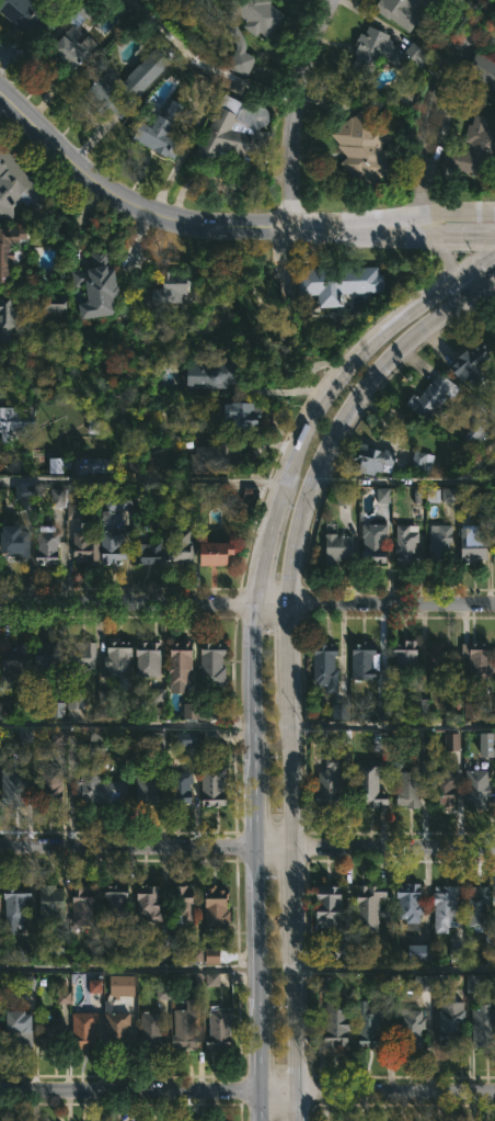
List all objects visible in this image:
building: (429, 0)
building: (449, 1)
building: (404, 14)
building: (27, 16)
building: (251, 27)
building: (73, 36)
building: (371, 47)
building: (413, 59)
road: (204, 64)
building: (484, 68)
building: (145, 72)
building: (106, 93)
road: (428, 103)
road: (296, 110)
building: (164, 128)
building: (241, 131)
building: (365, 147)
building: (474, 150)
building: (19, 184)
road: (450, 215)
road: (488, 215)
road: (187, 220)
road: (456, 236)
road: (435, 244)
building: (9, 251)
road: (281, 257)
building: (341, 283)
building: (100, 285)
building: (177, 287)
building: (55, 307)
building: (10, 314)
building: (474, 361)
building: (217, 374)
building: (435, 394)
building: (244, 415)
building: (15, 422)
building: (475, 433)
building: (217, 458)
building: (378, 461)
building: (423, 462)
road: (479, 463)
building: (55, 465)
building: (101, 465)
road: (403, 480)
building: (23, 491)
building: (382, 495)
building: (448, 495)
building: (57, 497)
building: (118, 502)
building: (73, 509)
building: (19, 540)
building: (494, 541)
building: (376, 542)
building: (410, 544)
building: (0, 545)
building: (49, 545)
building: (114, 545)
building: (183, 546)
building: (445, 546)
building: (475, 546)
building: (88, 547)
building: (338, 547)
building: (148, 552)
building: (220, 553)
road: (275, 602)
road: (128, 603)
road: (393, 603)
road: (256, 635)
building: (83, 655)
building: (408, 656)
building: (119, 658)
building: (149, 658)
building: (50, 660)
road: (291, 660)
building: (367, 660)
building: (480, 660)
building: (440, 661)
building: (326, 663)
building: (14, 664)
building: (214, 665)
building: (181, 667)
building: (157, 695)
building: (74, 701)
building: (382, 707)
building: (419, 709)
building: (56, 710)
building: (470, 710)
building: (189, 711)
building: (339, 711)
road: (128, 724)
road: (393, 725)
building: (209, 736)
building: (185, 738)
building: (157, 740)
building: (451, 741)
building: (485, 744)
building: (97, 746)
building: (333, 781)
building: (50, 783)
building: (370, 784)
building: (215, 785)
building: (408, 785)
building: (16, 786)
building: (181, 786)
building: (480, 788)
building: (102, 789)
building: (447, 789)
building: (148, 790)
road: (129, 848)
road: (277, 849)
road: (394, 849)
building: (0, 901)
building: (117, 902)
building: (150, 903)
building: (184, 903)
building: (412, 903)
building: (51, 904)
building: (83, 904)
building: (16, 906)
building: (331, 906)
building: (371, 907)
building: (481, 907)
building: (218, 908)
building: (447, 908)
building: (58, 946)
building: (23, 950)
building: (342, 950)
building: (127, 951)
building: (417, 952)
building: (195, 954)
building: (453, 954)
building: (211, 955)
road: (394, 967)
road: (128, 969)
building: (211, 980)
building: (423, 983)
building: (471, 983)
building: (120, 985)
building: (94, 986)
building: (27, 988)
building: (62, 997)
building: (453, 1019)
building: (338, 1024)
building: (370, 1024)
building: (220, 1026)
building: (484, 1026)
building: (21, 1028)
building: (151, 1028)
building: (185, 1028)
building: (84, 1029)
building: (118, 1029)
building: (414, 1030)
building: (53, 1032)
building: (2, 1034)
road: (128, 1091)
road: (275, 1095)
road: (393, 1095)

